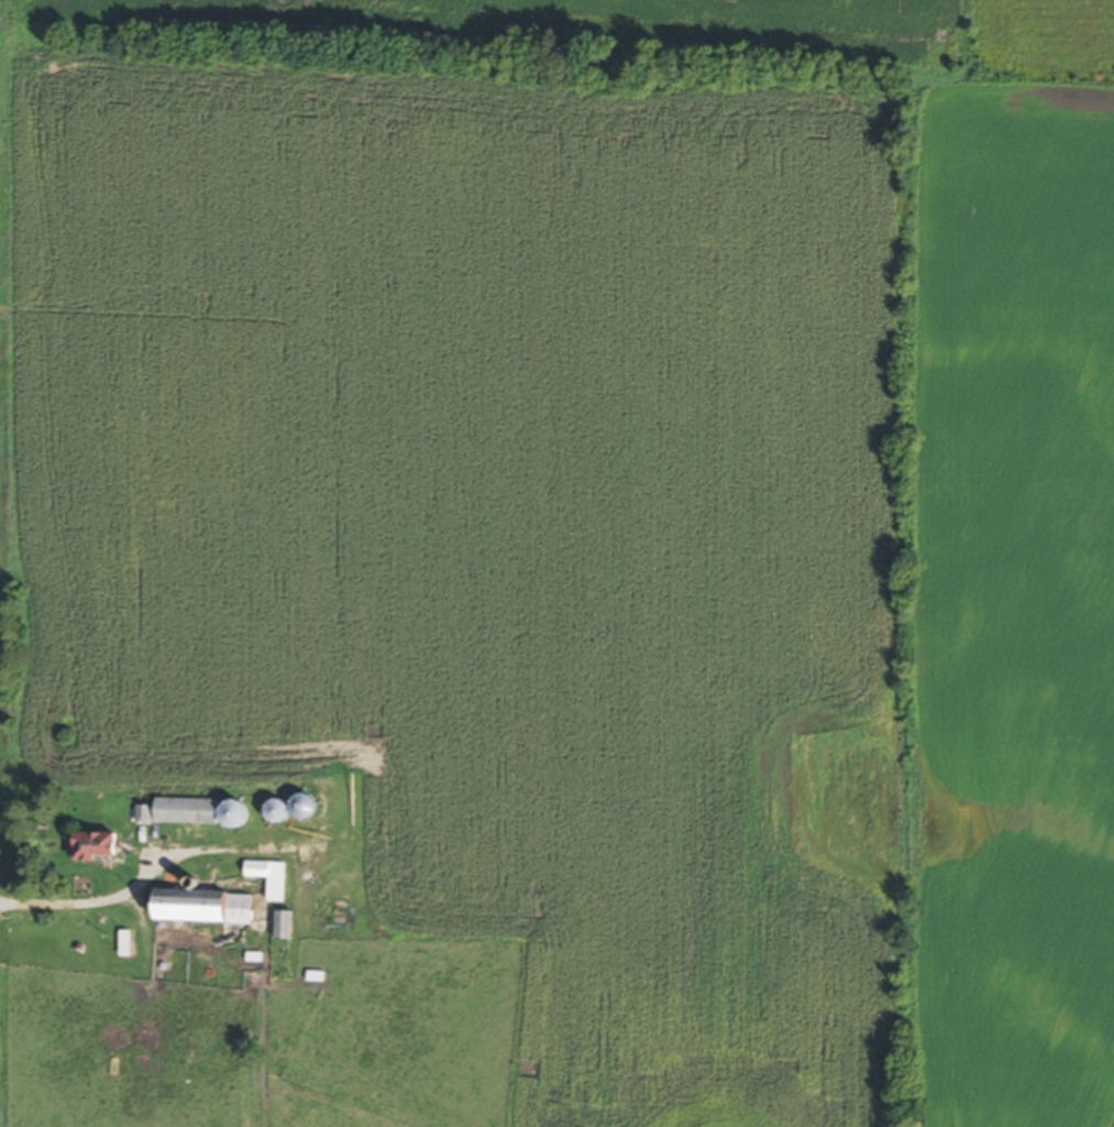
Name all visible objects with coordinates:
building: (170, 809)
building: (310, 809)
building: (285, 813)
building: (104, 847)
building: (274, 880)
road: (82, 907)
building: (209, 908)
building: (288, 927)

